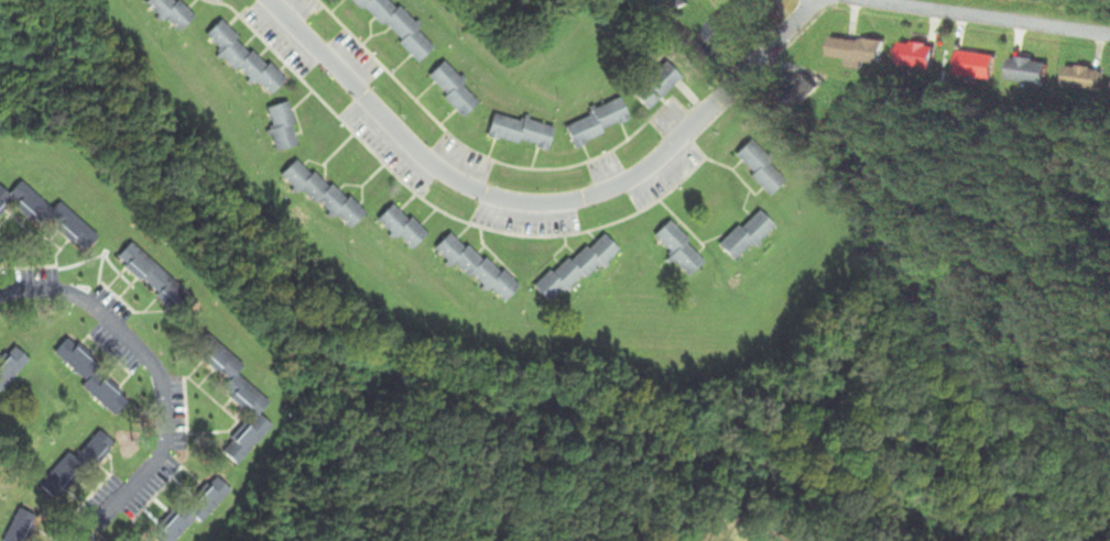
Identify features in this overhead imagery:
building: (762, 4)
building: (172, 13)
road: (983, 16)
building: (398, 29)
building: (715, 41)
building: (861, 52)
building: (919, 56)
building: (246, 60)
building: (981, 66)
building: (1032, 71)
building: (1087, 79)
building: (454, 90)
building: (653, 90)
building: (802, 92)
building: (598, 124)
building: (283, 128)
building: (523, 133)
building: (761, 169)
building: (324, 196)
road: (540, 203)
building: (54, 219)
building: (403, 229)
building: (747, 236)
building: (679, 251)
building: (478, 268)
building: (159, 281)
building: (10, 365)
road: (156, 377)
building: (94, 380)
building: (239, 399)
building: (74, 468)
building: (199, 510)
building: (23, 527)

